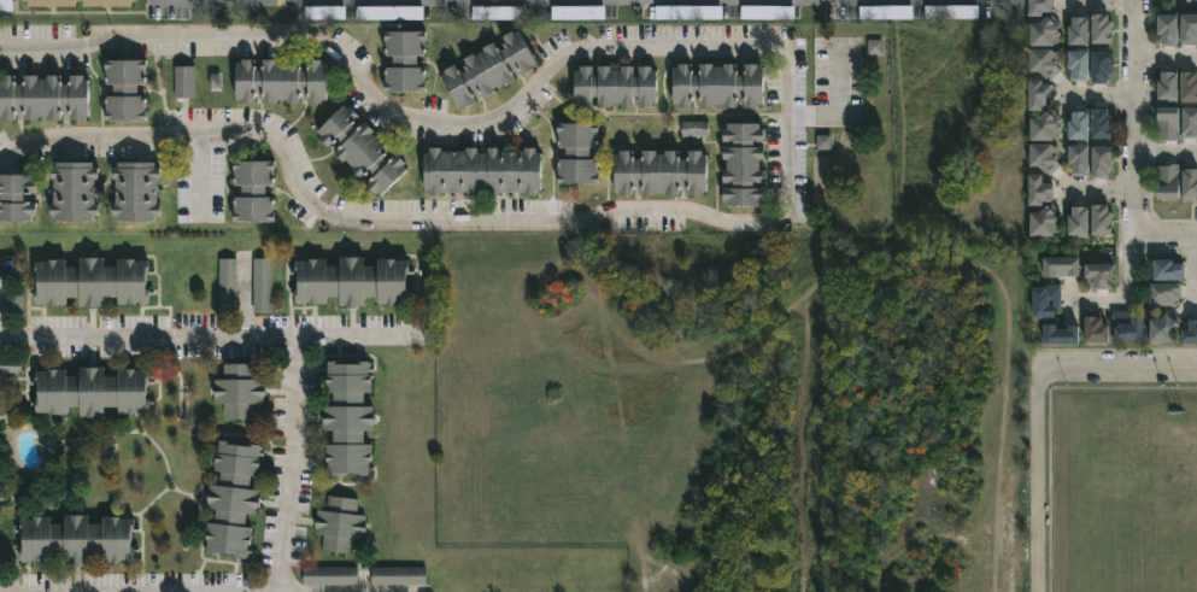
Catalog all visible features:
road: (1103, 0)
building: (49, 4)
building: (1044, 7)
building: (1105, 29)
building: (1172, 29)
building: (1191, 30)
building: (1081, 31)
building: (1048, 33)
road: (1133, 47)
road: (1164, 59)
building: (406, 60)
building: (1048, 61)
building: (1082, 65)
building: (1104, 68)
building: (491, 70)
building: (282, 81)
building: (184, 82)
building: (721, 86)
building: (1170, 86)
building: (618, 87)
building: (1190, 87)
building: (125, 90)
road: (1103, 95)
building: (45, 98)
road: (839, 104)
building: (1039, 110)
building: (1167, 123)
building: (1105, 124)
building: (1191, 124)
building: (1081, 127)
road: (782, 135)
road: (1164, 150)
building: (364, 151)
building: (581, 154)
building: (1046, 158)
building: (1082, 159)
building: (1105, 162)
building: (746, 165)
road: (1132, 166)
building: (480, 172)
building: (663, 174)
building: (1170, 183)
building: (1191, 184)
building: (256, 191)
building: (1044, 191)
road: (1103, 191)
building: (76, 192)
building: (137, 193)
building: (17, 198)
building: (1105, 221)
building: (1048, 222)
building: (1082, 222)
road: (1163, 238)
building: (1063, 268)
building: (1169, 271)
building: (1103, 276)
building: (93, 282)
building: (354, 282)
building: (1164, 294)
road: (1140, 297)
building: (1048, 301)
building: (1131, 327)
building: (1167, 328)
building: (1098, 329)
building: (1191, 333)
building: (1063, 335)
road: (345, 342)
road: (263, 344)
road: (1117, 367)
building: (94, 393)
building: (241, 393)
building: (351, 421)
road: (1038, 480)
building: (0, 490)
building: (0, 493)
building: (234, 498)
building: (341, 524)
building: (77, 541)
building: (329, 578)
building: (398, 578)

